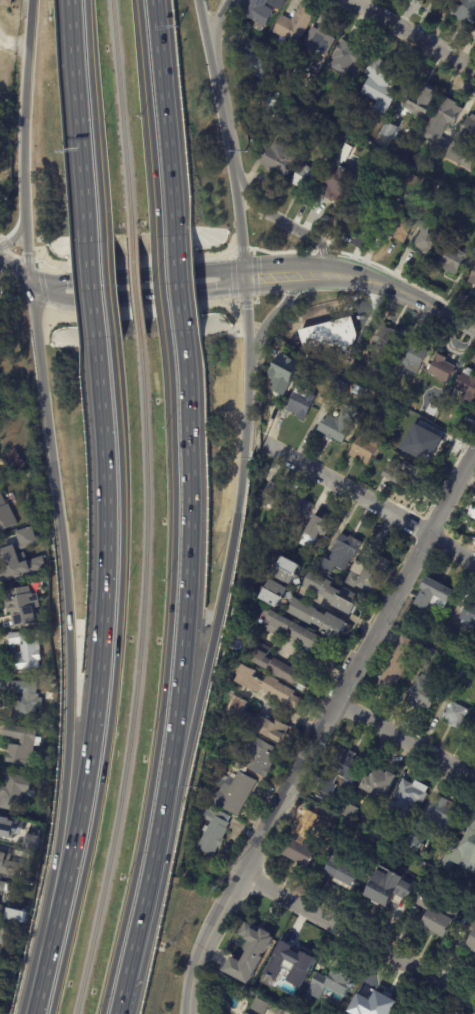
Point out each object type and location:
building: (275, 2)
building: (4, 3)
building: (436, 3)
building: (256, 10)
building: (464, 12)
road: (217, 20)
road: (203, 21)
building: (238, 23)
building: (293, 25)
road: (413, 34)
building: (312, 47)
building: (343, 58)
building: (253, 66)
building: (380, 84)
building: (310, 98)
building: (416, 100)
building: (270, 102)
road: (23, 107)
road: (165, 112)
road: (222, 112)
road: (148, 113)
road: (94, 115)
road: (78, 116)
railway: (121, 116)
building: (441, 126)
building: (280, 128)
building: (386, 130)
building: (468, 132)
building: (278, 159)
building: (466, 161)
building: (396, 174)
building: (304, 179)
building: (337, 183)
building: (410, 183)
building: (2, 196)
building: (437, 198)
building: (365, 204)
building: (399, 223)
road: (286, 224)
road: (239, 229)
road: (14, 234)
building: (430, 240)
road: (25, 249)
building: (450, 259)
road: (312, 273)
road: (14, 274)
road: (272, 275)
road: (135, 278)
building: (472, 278)
road: (180, 280)
road: (163, 281)
railway: (135, 284)
road: (108, 285)
road: (91, 286)
road: (402, 291)
road: (134, 296)
building: (2, 312)
road: (274, 312)
road: (245, 314)
building: (331, 334)
building: (386, 341)
building: (413, 355)
building: (339, 364)
building: (439, 369)
building: (356, 371)
building: (282, 374)
building: (466, 386)
building: (386, 389)
building: (339, 390)
building: (299, 403)
building: (428, 409)
building: (404, 417)
road: (269, 423)
building: (336, 425)
road: (275, 428)
building: (394, 431)
building: (426, 443)
building: (364, 450)
building: (18, 458)
building: (1, 464)
building: (402, 476)
building: (270, 496)
building: (474, 499)
road: (369, 500)
building: (297, 509)
building: (471, 512)
building: (5, 513)
building: (322, 525)
building: (258, 532)
building: (339, 556)
building: (16, 558)
building: (313, 563)
building: (288, 571)
building: (367, 574)
road: (188, 585)
building: (273, 594)
building: (330, 594)
building: (433, 595)
road: (221, 597)
road: (65, 601)
building: (20, 604)
building: (315, 615)
building: (469, 615)
building: (40, 622)
building: (296, 632)
road: (102, 633)
building: (446, 638)
building: (27, 649)
building: (473, 661)
building: (394, 665)
building: (275, 666)
building: (460, 670)
road: (164, 677)
railway: (135, 678)
road: (114, 679)
building: (426, 680)
building: (268, 685)
building: (27, 700)
building: (454, 715)
building: (259, 723)
road: (321, 727)
building: (222, 728)
building: (51, 732)
building: (472, 733)
road: (405, 739)
building: (25, 745)
building: (256, 759)
building: (340, 771)
building: (378, 784)
building: (17, 793)
building: (234, 794)
building: (404, 797)
building: (349, 811)
building: (440, 816)
building: (306, 824)
building: (378, 827)
building: (211, 829)
building: (11, 840)
building: (413, 845)
building: (464, 849)
building: (298, 852)
building: (6, 862)
building: (337, 873)
building: (3, 885)
building: (387, 887)
building: (419, 898)
building: (1, 908)
building: (14, 915)
building: (441, 920)
road: (138, 925)
building: (3, 933)
building: (468, 933)
road: (358, 937)
building: (248, 954)
road: (40, 968)
building: (282, 968)
building: (329, 988)
building: (374, 1004)
building: (261, 1007)
building: (418, 1010)

